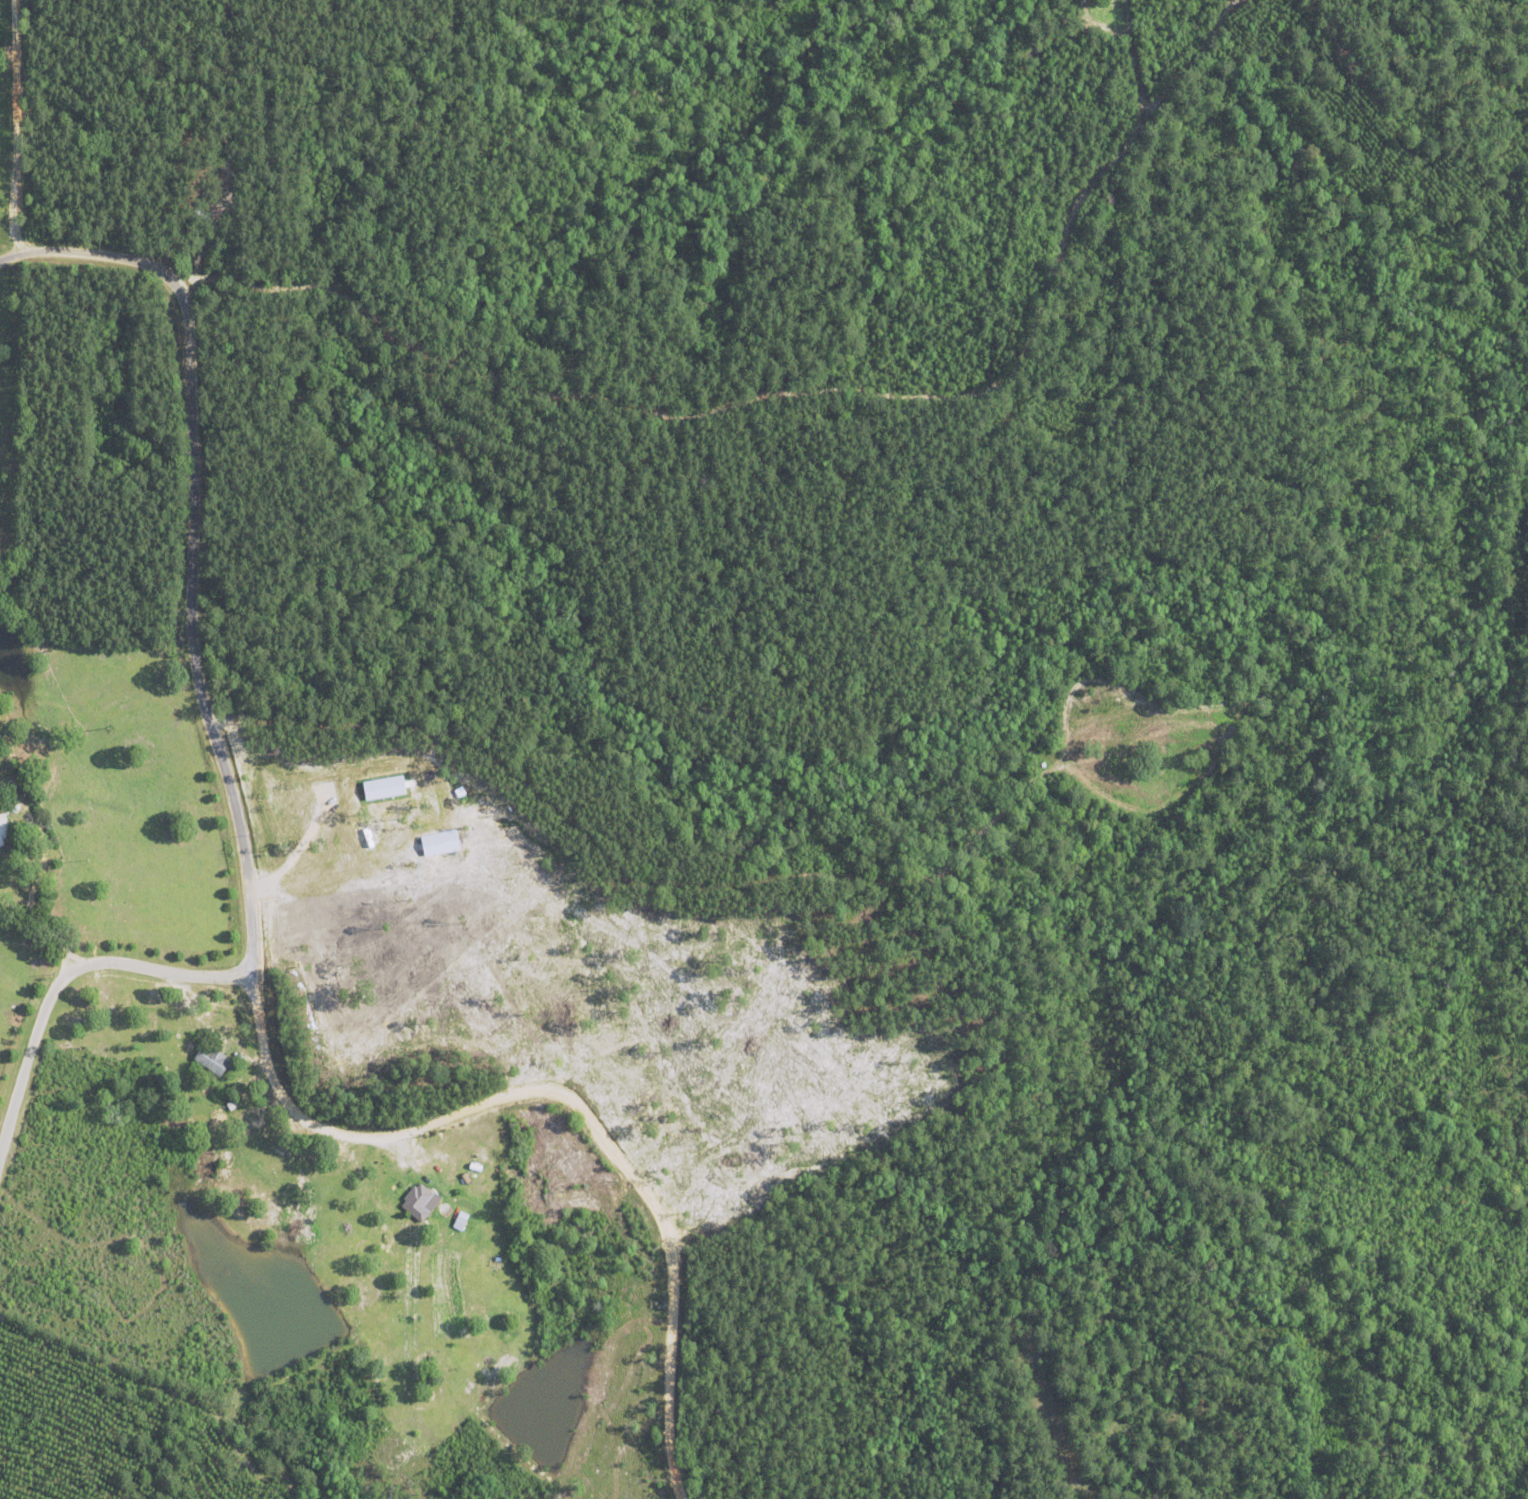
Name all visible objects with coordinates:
road: (193, 538)
building: (3, 828)
road: (68, 977)
building: (210, 1059)
road: (566, 1096)
building: (415, 1201)

